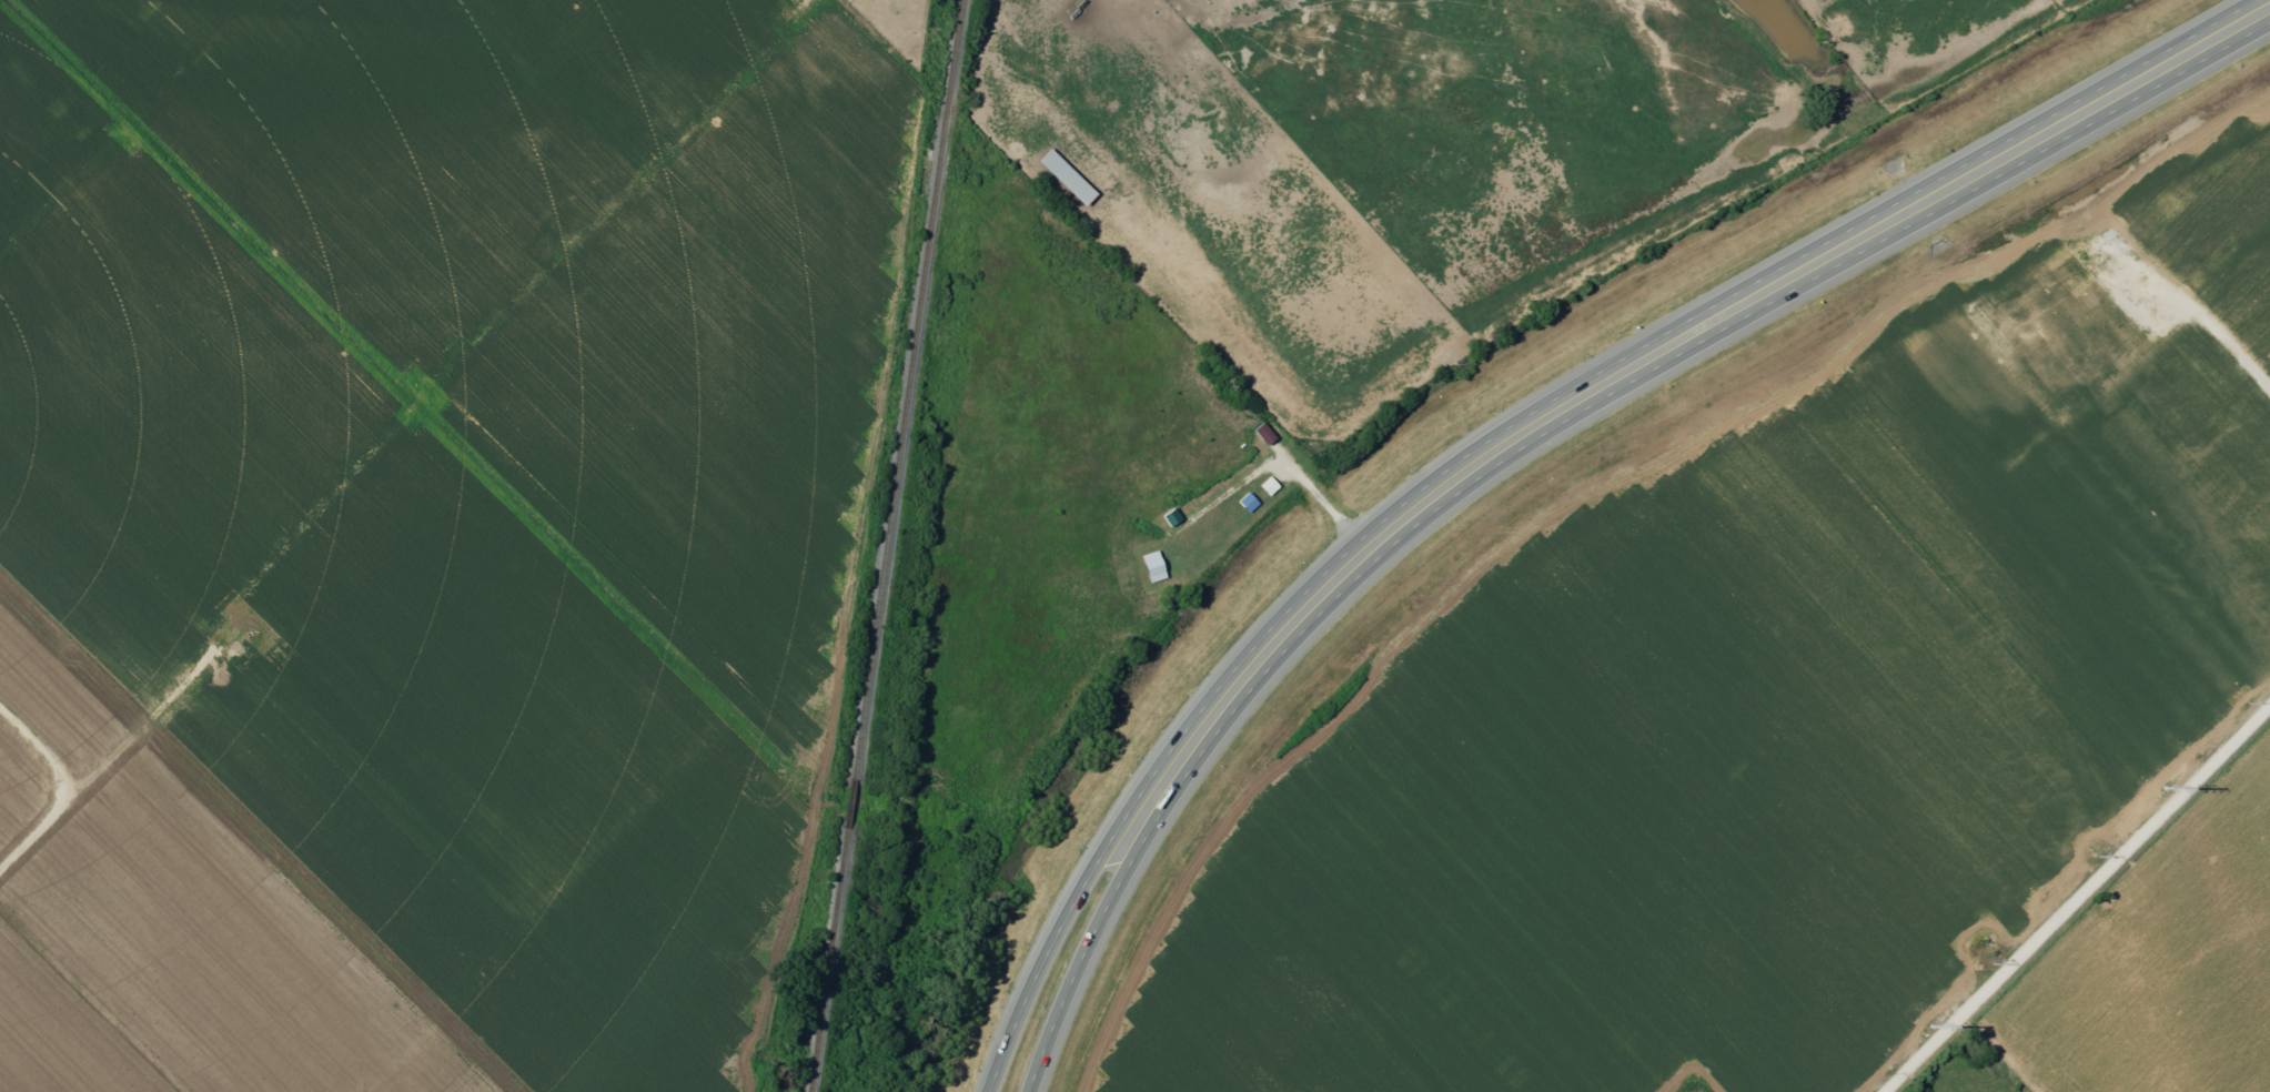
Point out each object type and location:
chimney: (2076, 274)
chimney: (2066, 279)
building: (2020, 310)
silo: (2020, 310)
road: (1664, 345)
petroleum well: (2080, 362)
building: (1260, 442)
building: (1245, 503)
building: (1147, 528)
railway: (885, 546)
building: (1151, 567)
petroleum well: (249, 644)
building: (224, 659)
silo: (224, 659)
road: (2077, 898)
road: (1053, 936)
road: (1088, 943)

